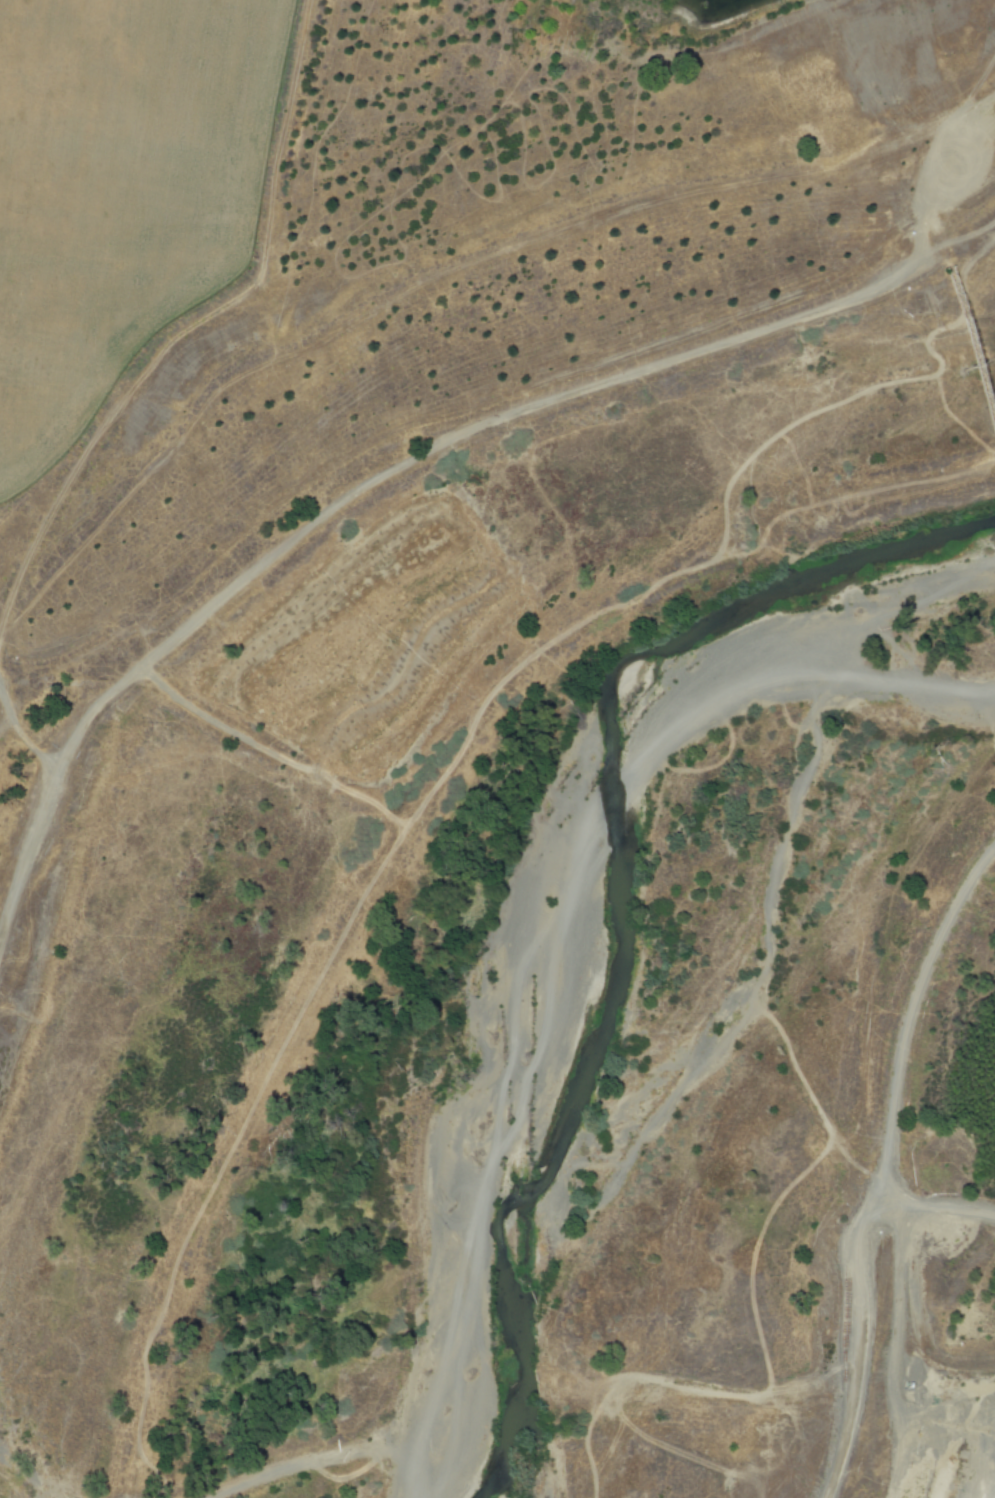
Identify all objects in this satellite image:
river: (515, 915)
quarry: (955, 1411)

